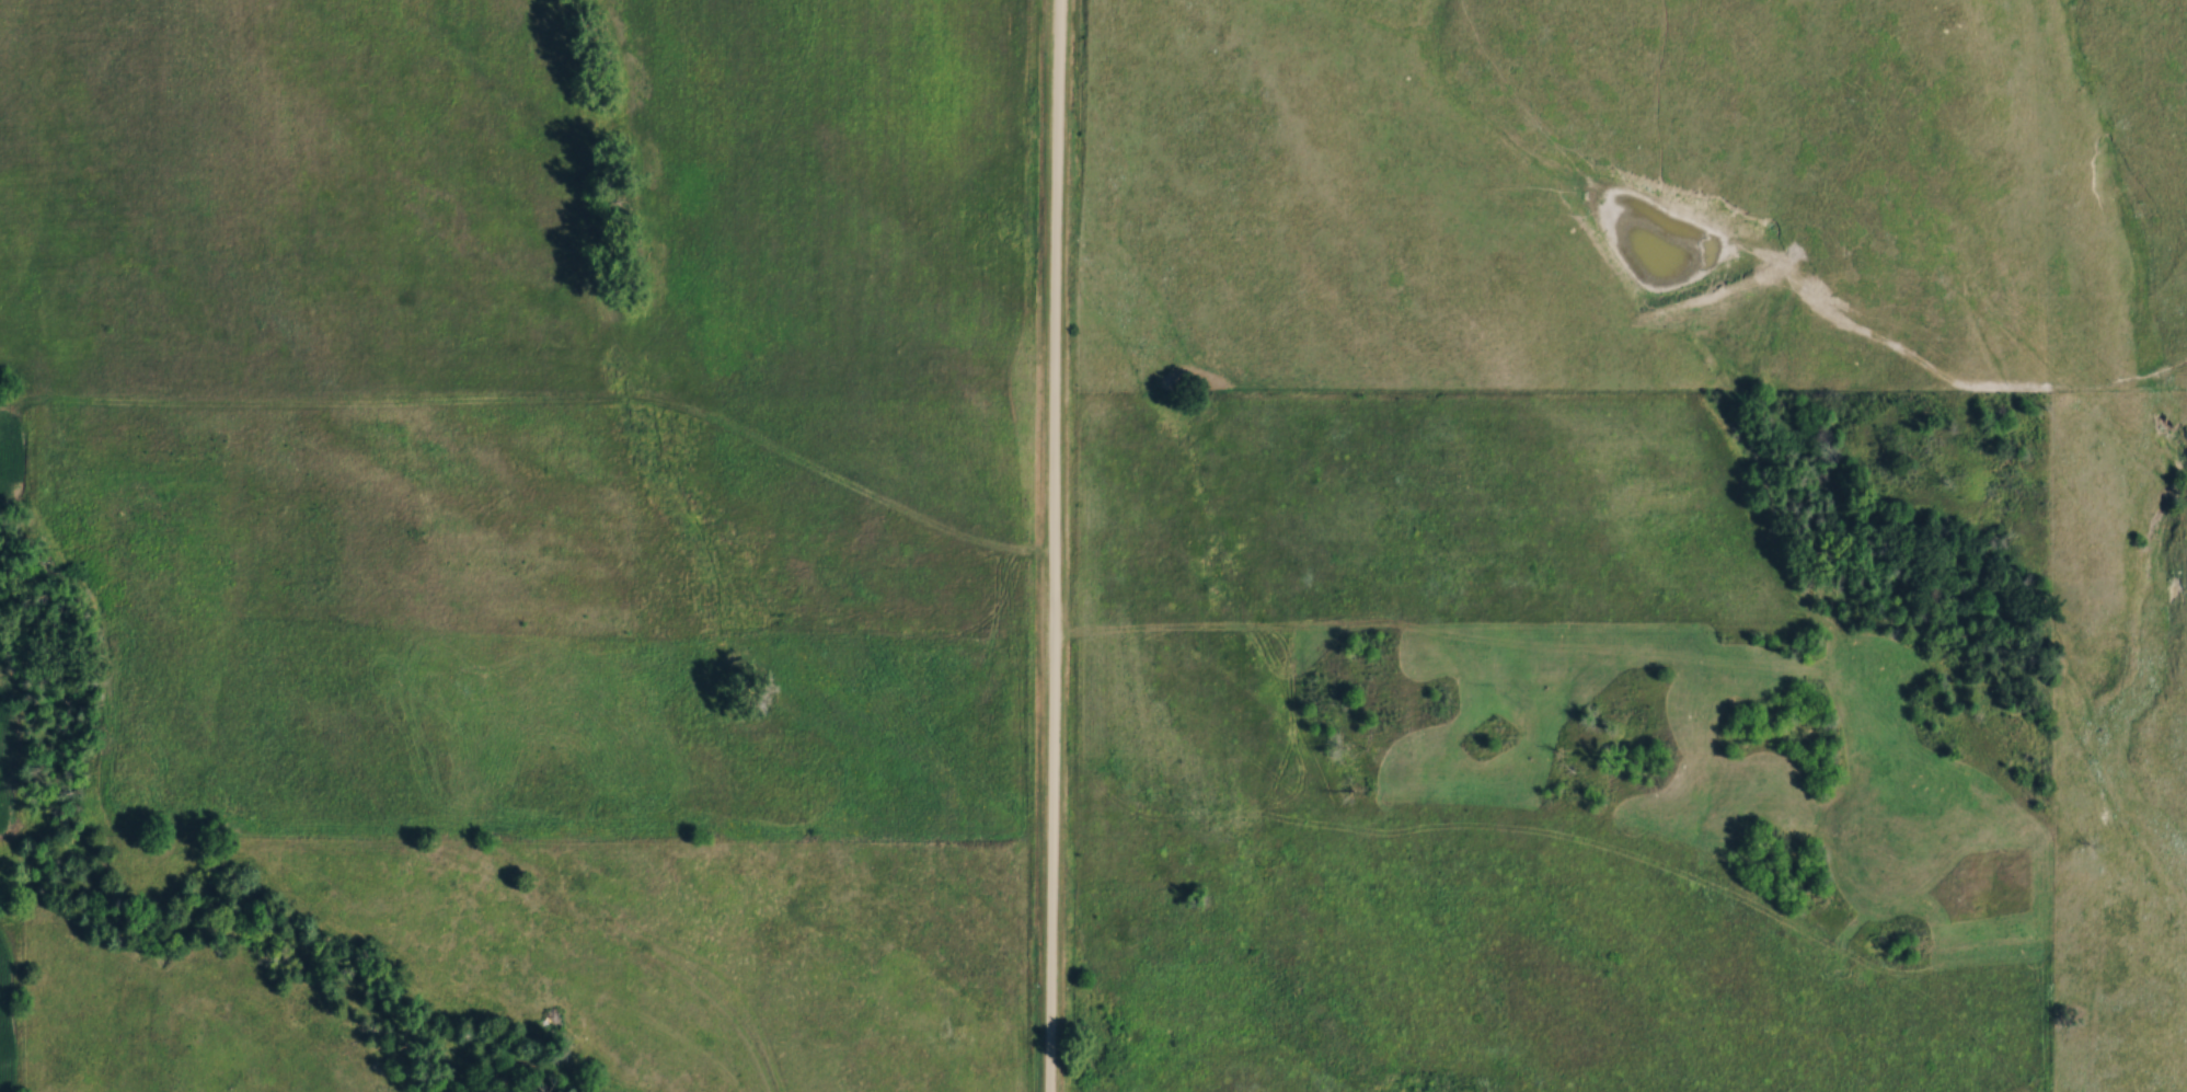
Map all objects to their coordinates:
building: (318, 486)
road: (1054, 545)
building: (792, 563)

